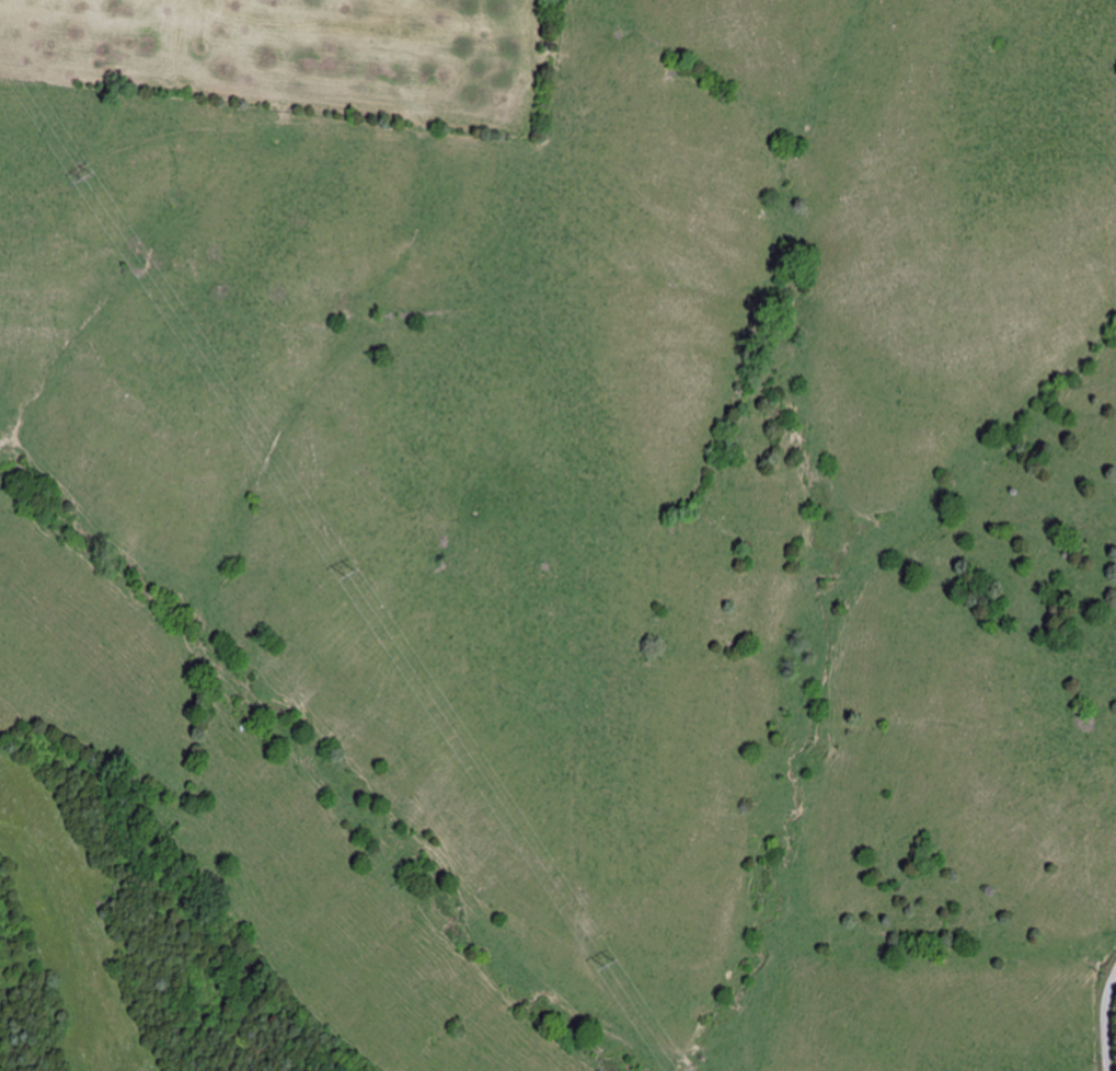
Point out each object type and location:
road: (1105, 1021)

